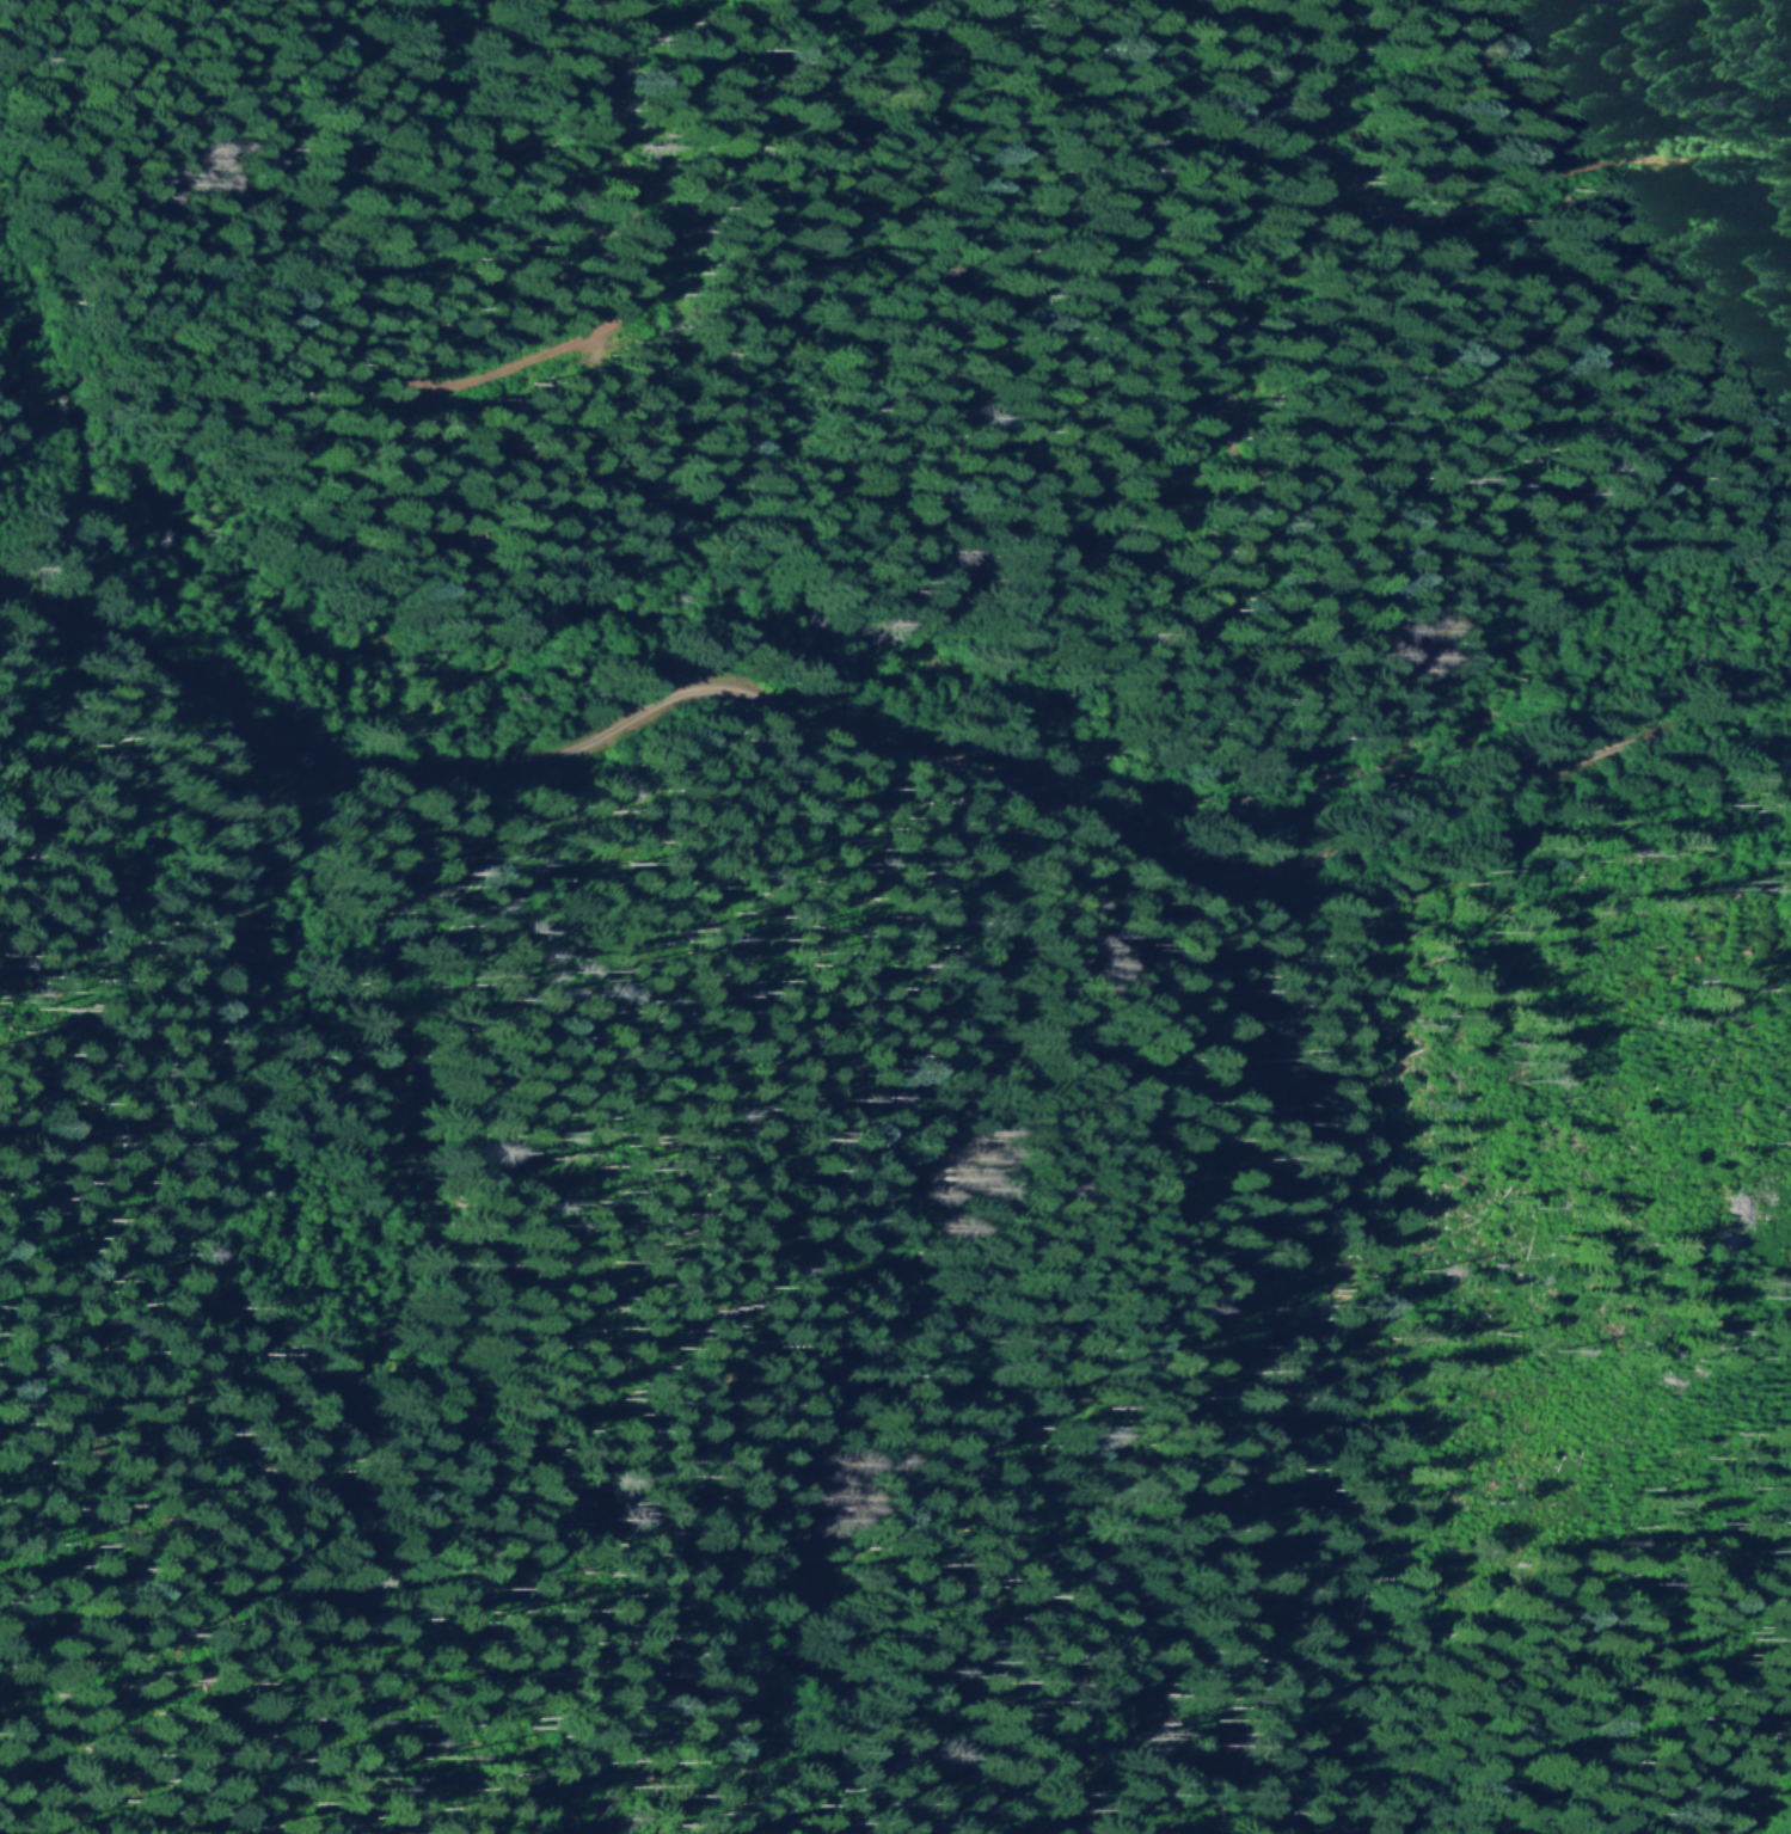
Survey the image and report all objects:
road: (1466, 214)
road: (642, 272)
river: (841, 593)
road: (888, 746)

